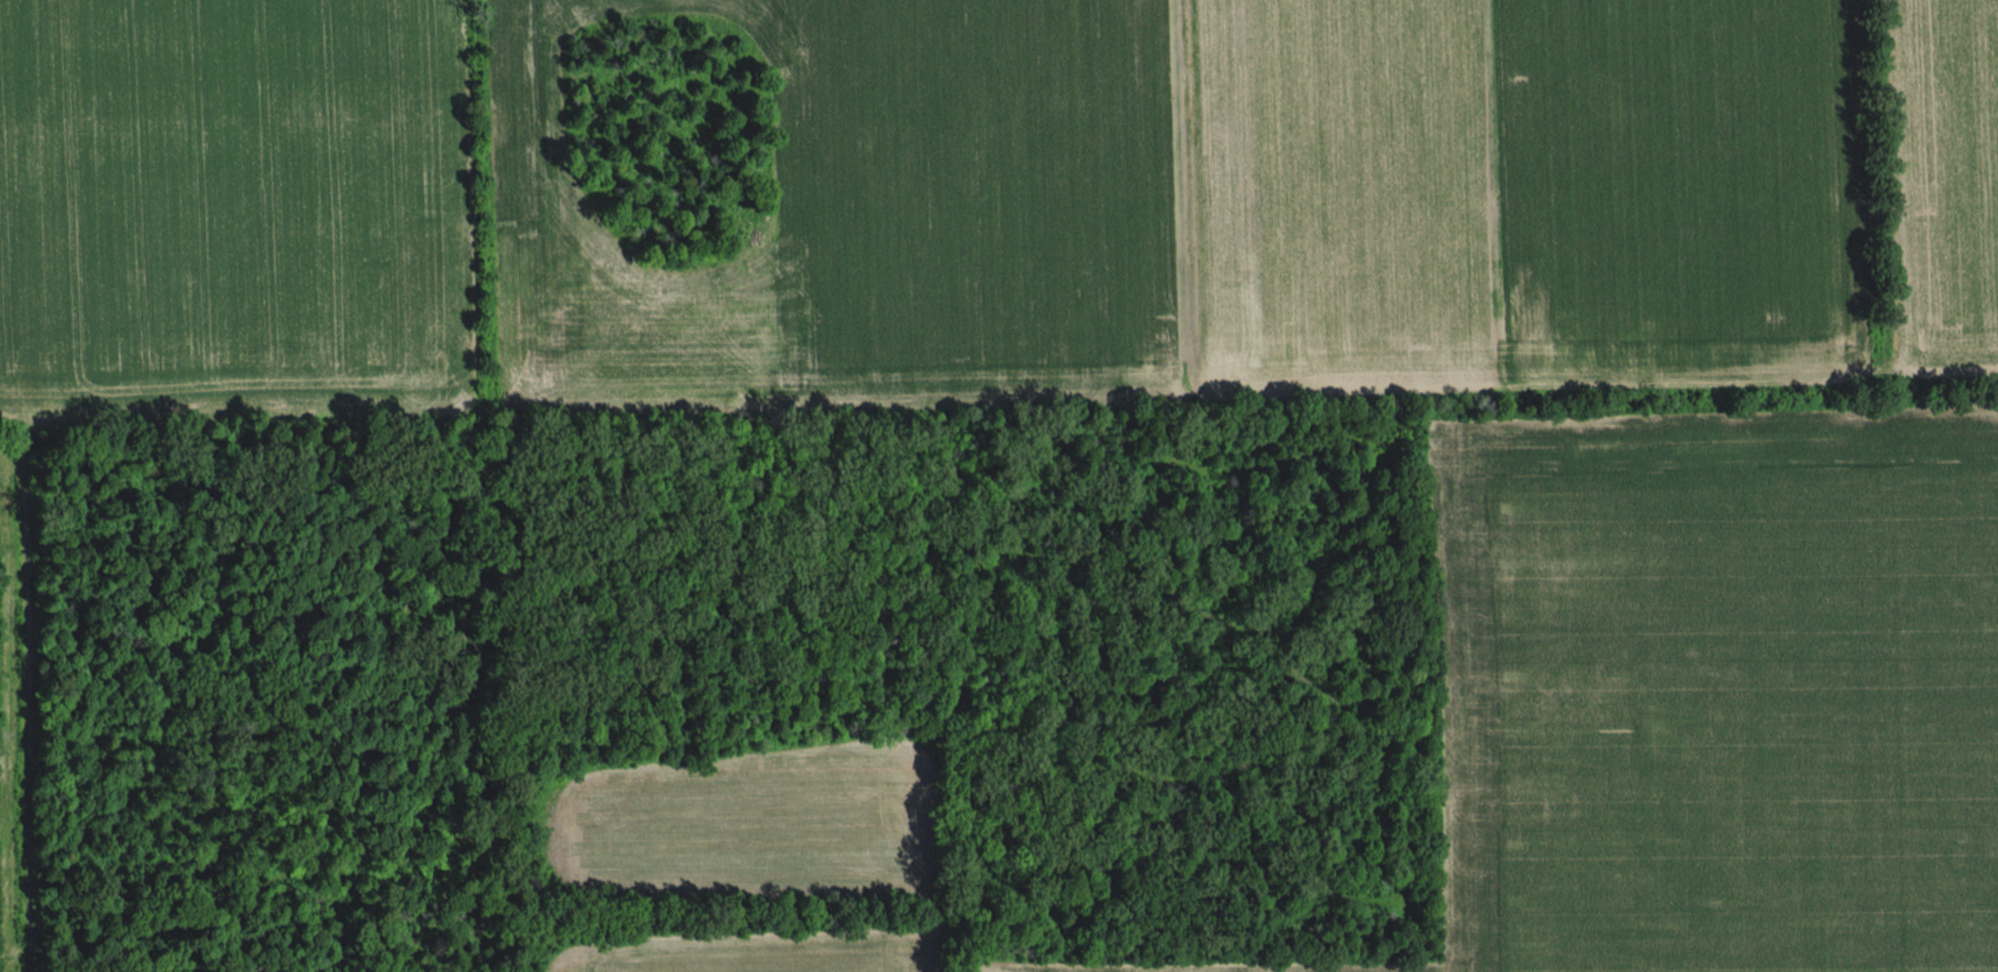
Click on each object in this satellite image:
crop: (673, 129)
crop: (673, 129)
crop: (673, 129)
crop: (1945, 179)
crop: (933, 203)
crop: (1706, 698)
crop: (747, 824)
crop: (761, 951)

